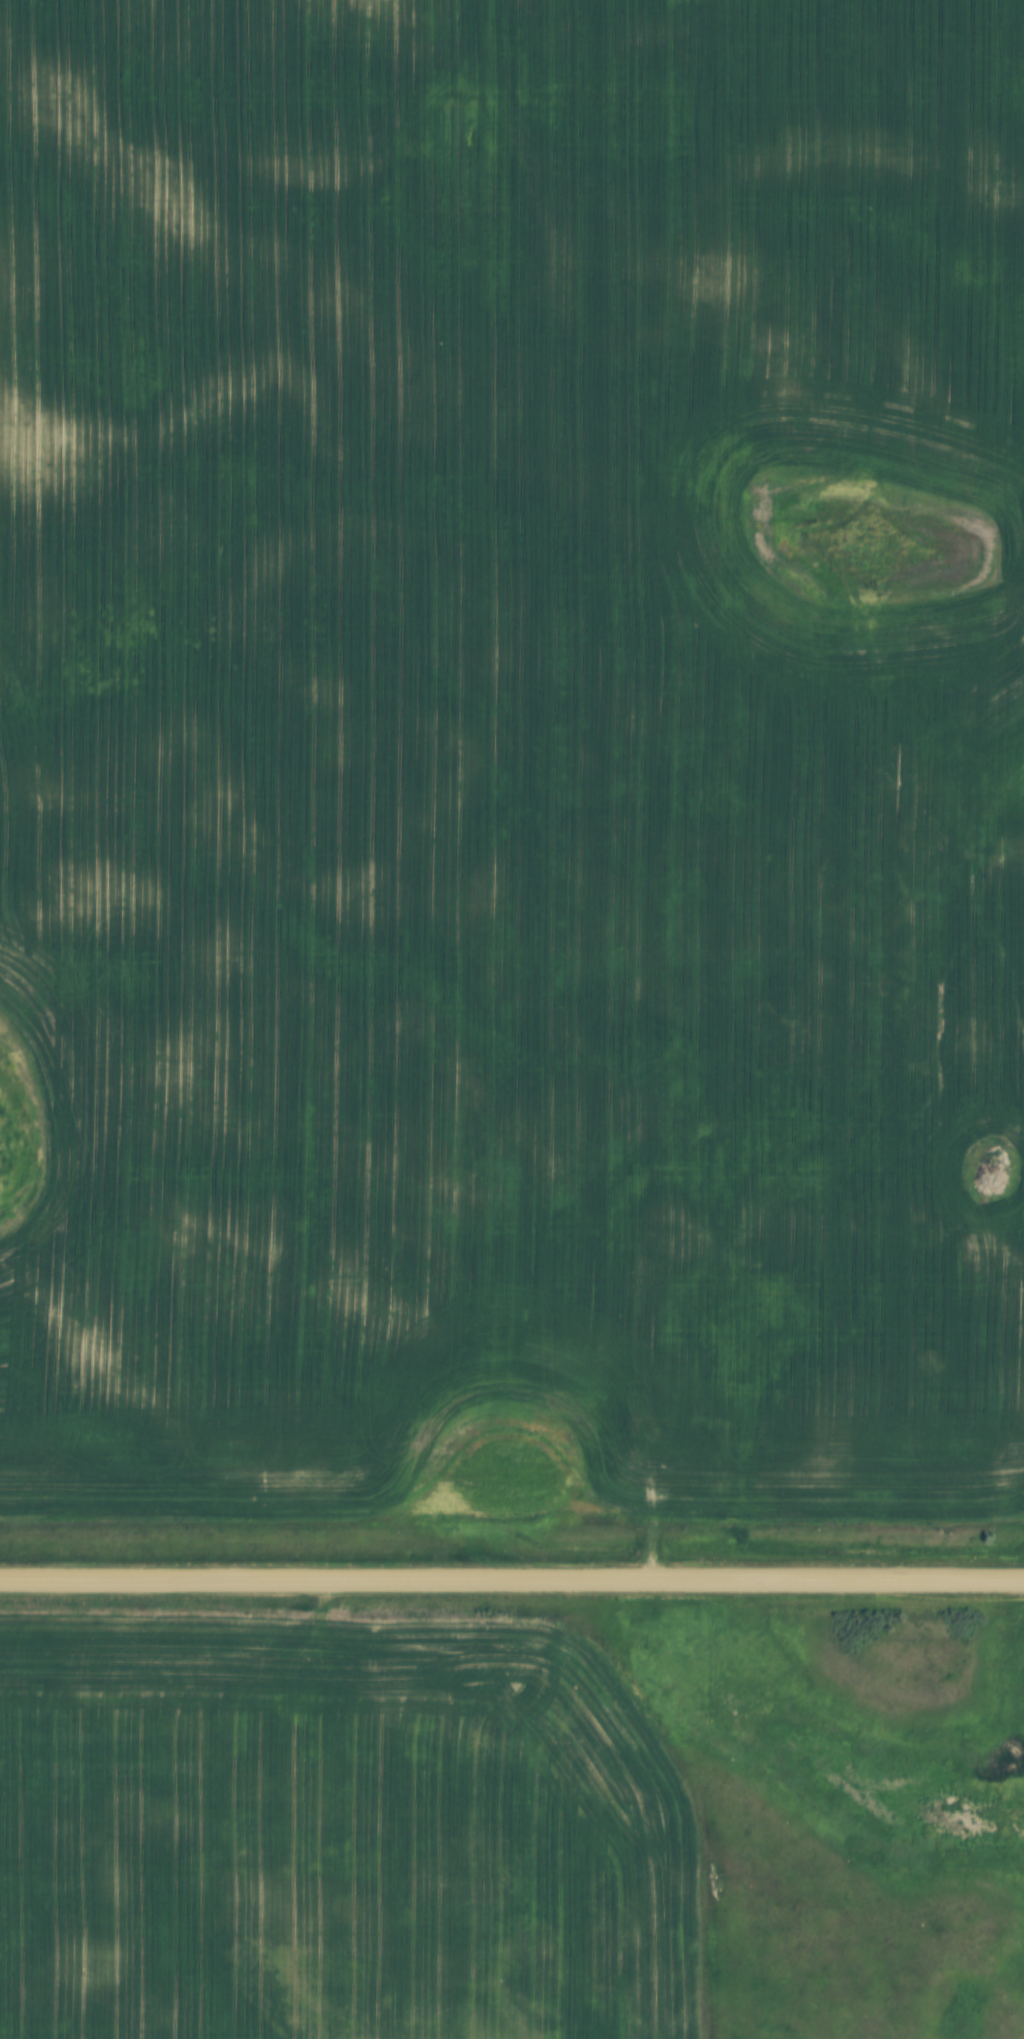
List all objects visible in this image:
road: (512, 1582)

